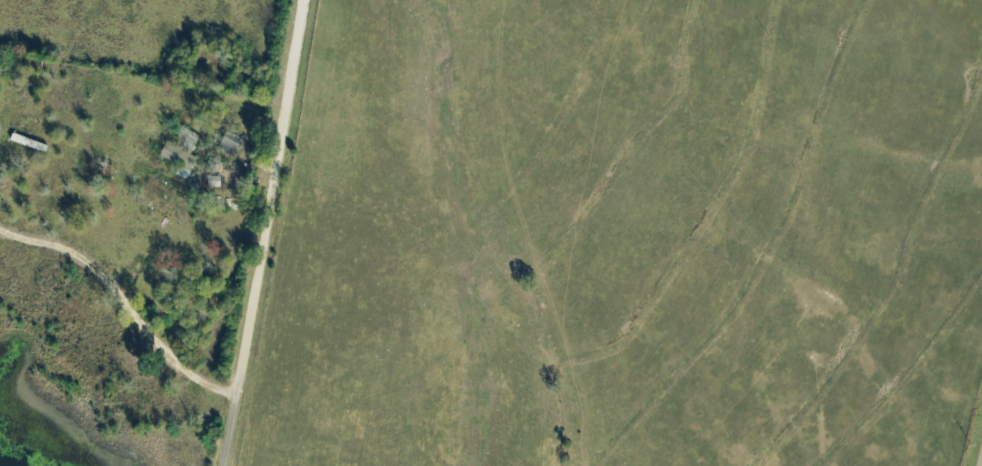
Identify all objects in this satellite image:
road: (270, 233)
road: (125, 300)

